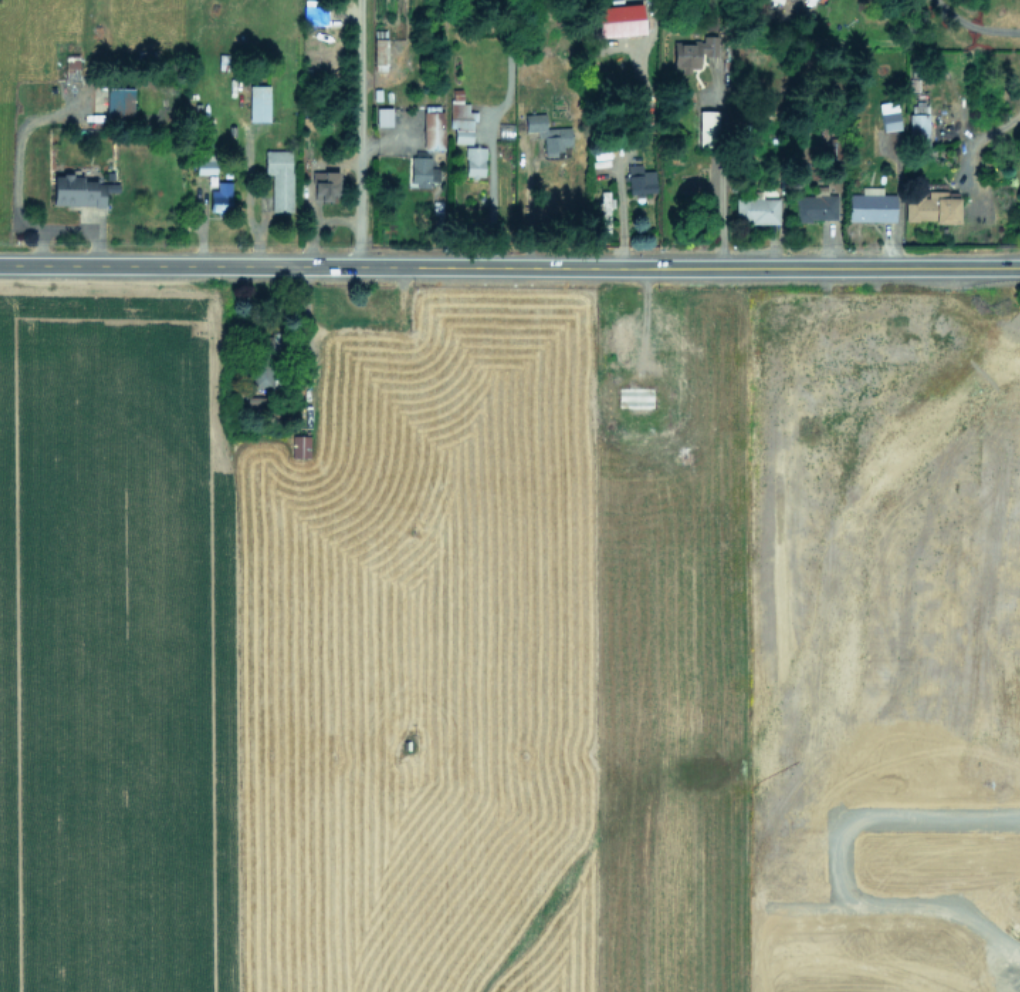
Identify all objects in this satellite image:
building: (314, 13)
road: (973, 24)
building: (692, 52)
building: (379, 54)
building: (119, 103)
building: (258, 103)
building: (888, 115)
building: (383, 116)
building: (460, 117)
building: (432, 127)
building: (706, 128)
road: (357, 133)
building: (547, 133)
road: (980, 136)
building: (474, 161)
building: (205, 163)
building: (421, 171)
road: (724, 171)
building: (279, 178)
building: (639, 180)
building: (324, 185)
building: (79, 190)
road: (490, 191)
building: (220, 197)
building: (604, 198)
road: (526, 205)
building: (815, 205)
building: (871, 205)
building: (931, 206)
building: (755, 209)
road: (620, 216)
road: (510, 267)
building: (623, 341)
building: (262, 371)
building: (635, 399)
building: (253, 401)
building: (299, 446)
crop: (509, 634)
road: (930, 643)
road: (841, 713)
road: (884, 815)
road: (930, 991)

